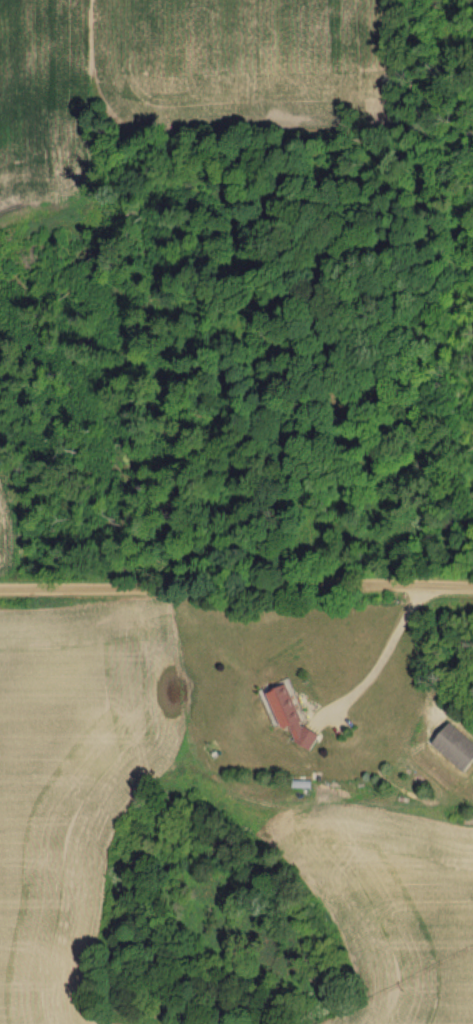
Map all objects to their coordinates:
crop: (174, 77)
crop: (11, 515)
road: (236, 585)
road: (381, 663)
building: (296, 718)
building: (457, 747)
crop: (197, 856)

